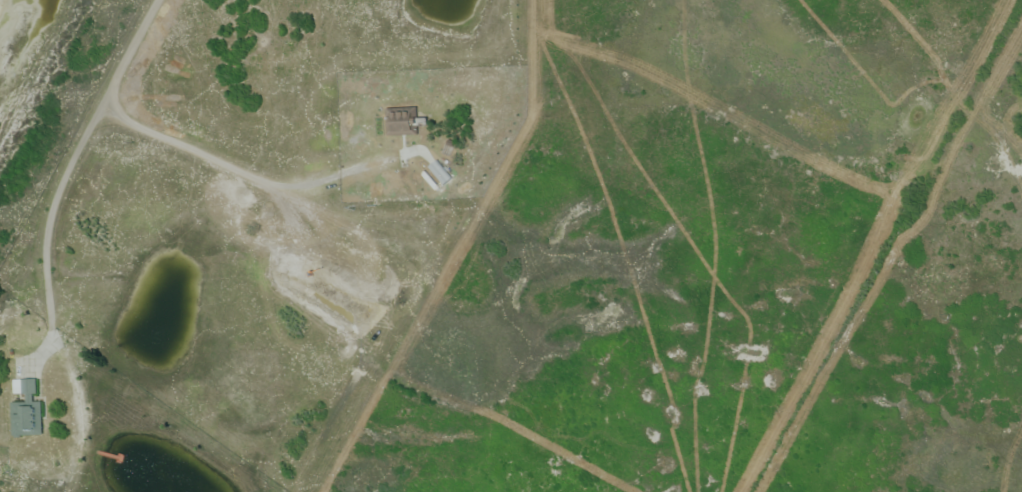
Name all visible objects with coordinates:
building: (403, 120)
road: (203, 153)
building: (442, 171)
road: (52, 223)
building: (27, 388)
building: (28, 419)

